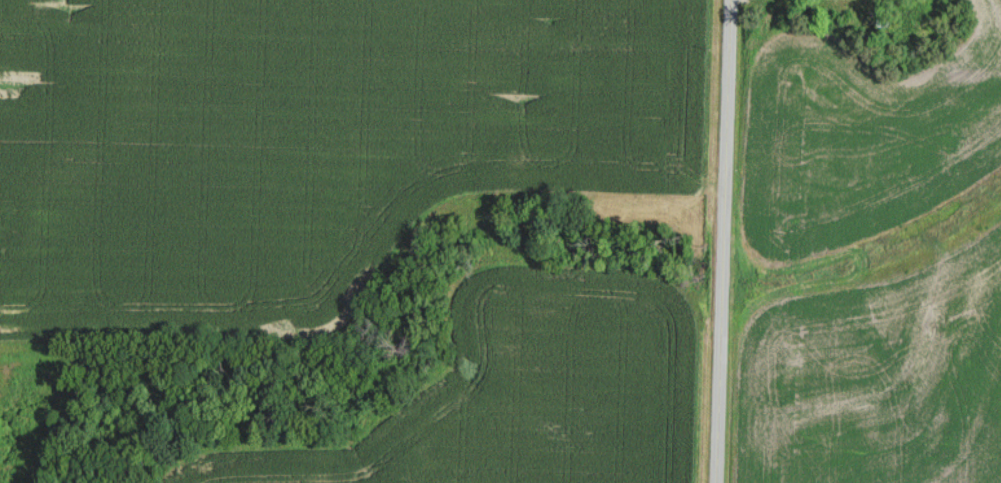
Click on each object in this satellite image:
building: (886, 23)
road: (724, 241)

